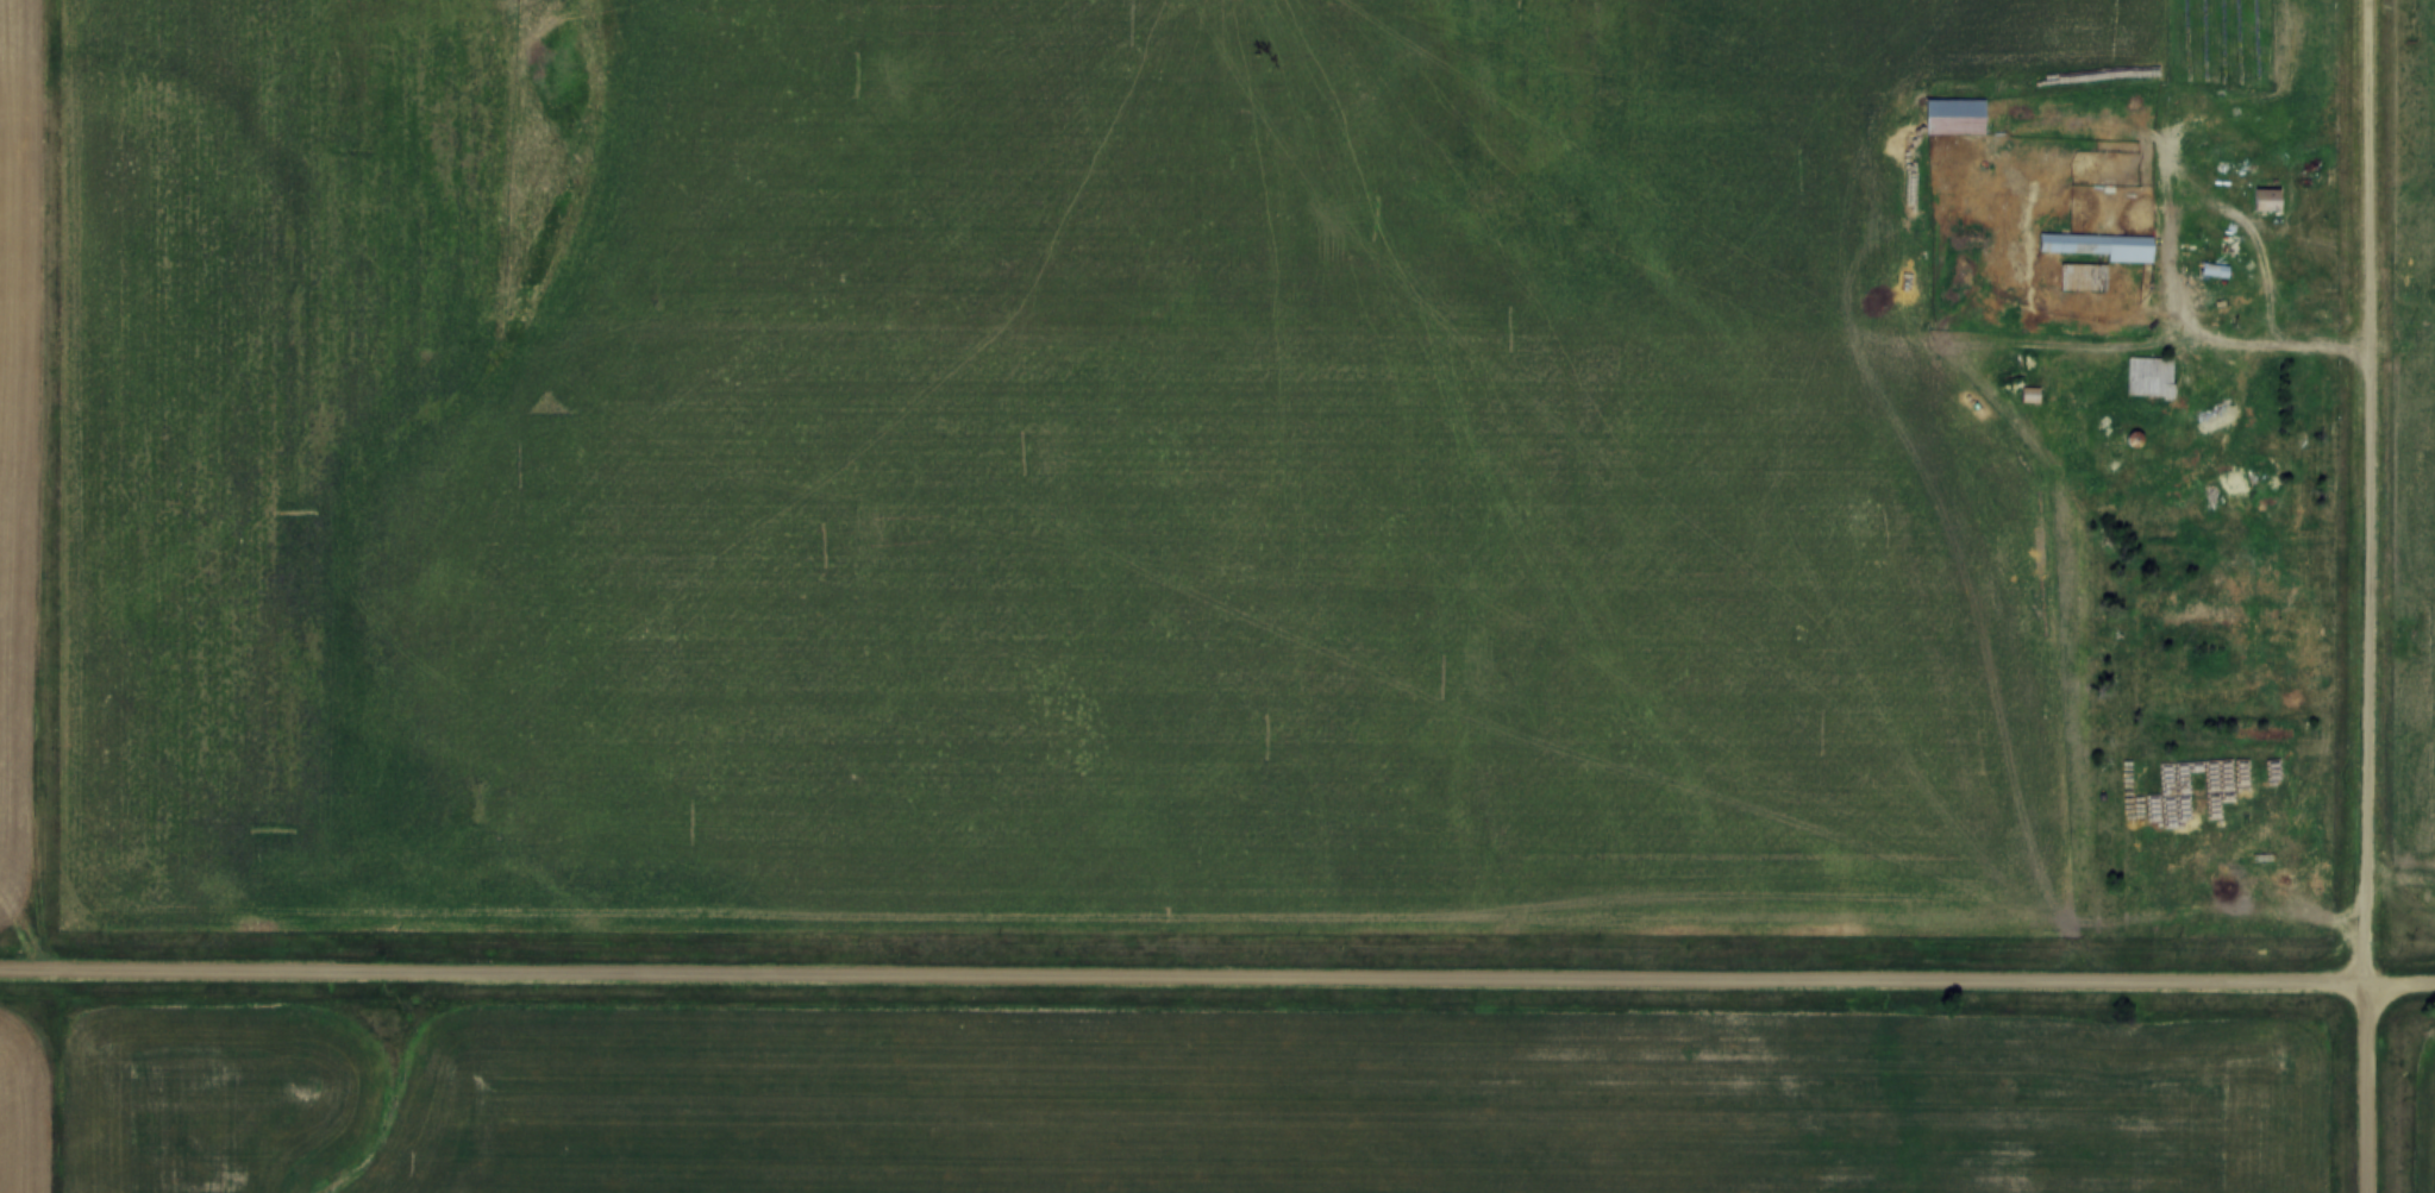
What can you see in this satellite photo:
building: (1953, 119)
road: (2191, 174)
building: (2264, 202)
road: (2271, 234)
building: (2098, 247)
building: (2214, 272)
building: (2086, 291)
building: (2147, 381)
road: (45, 485)
road: (2368, 596)
building: (2312, 604)
road: (1182, 980)
road: (2399, 986)

